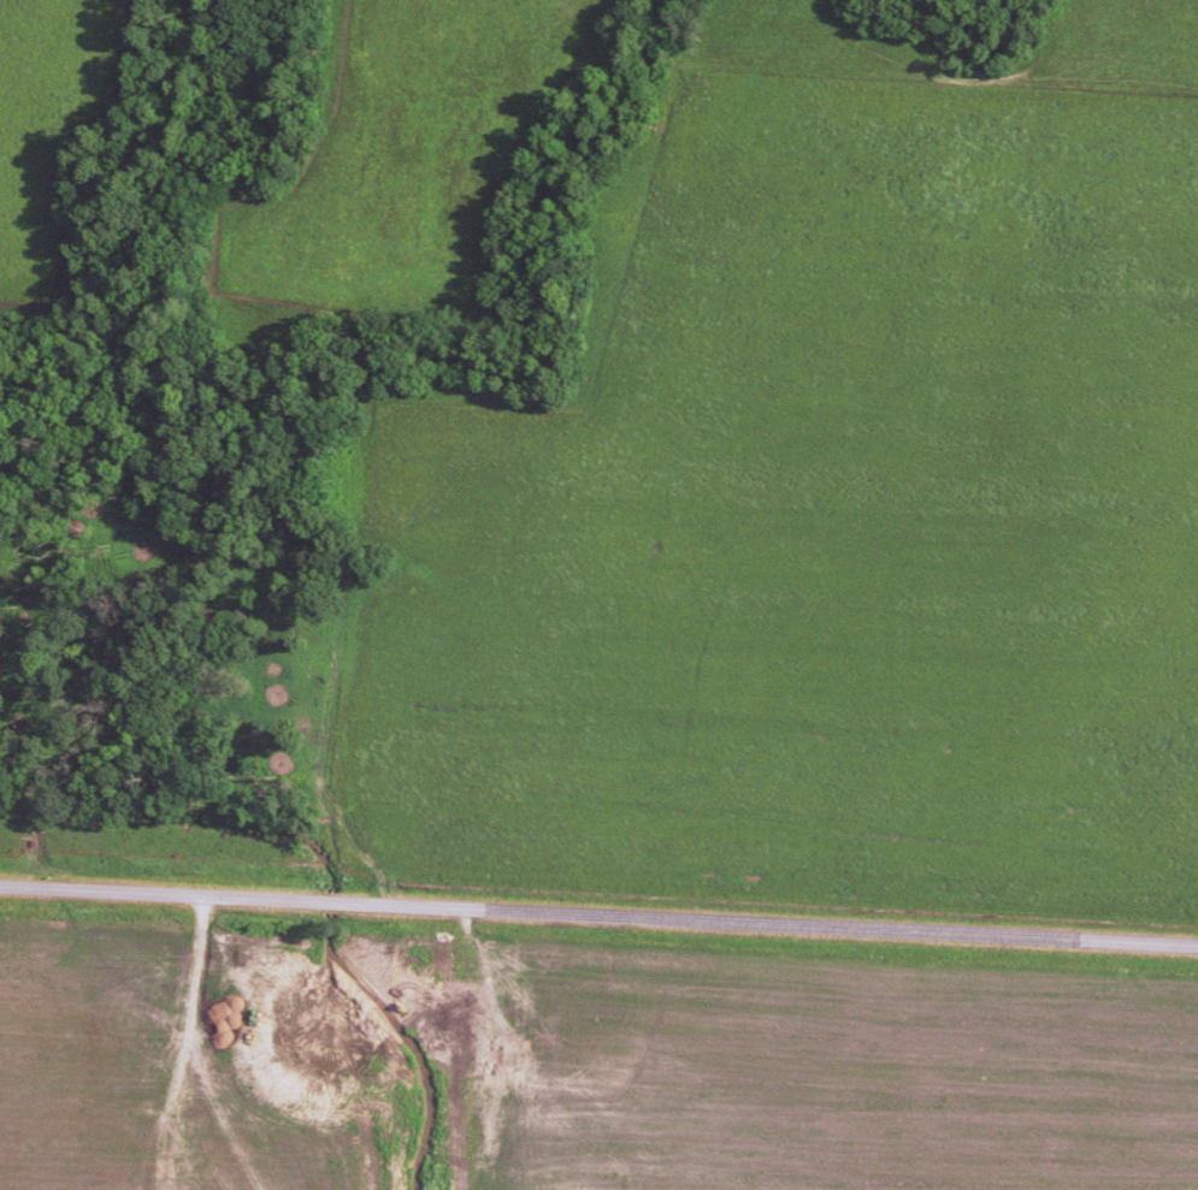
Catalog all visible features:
road: (598, 910)

